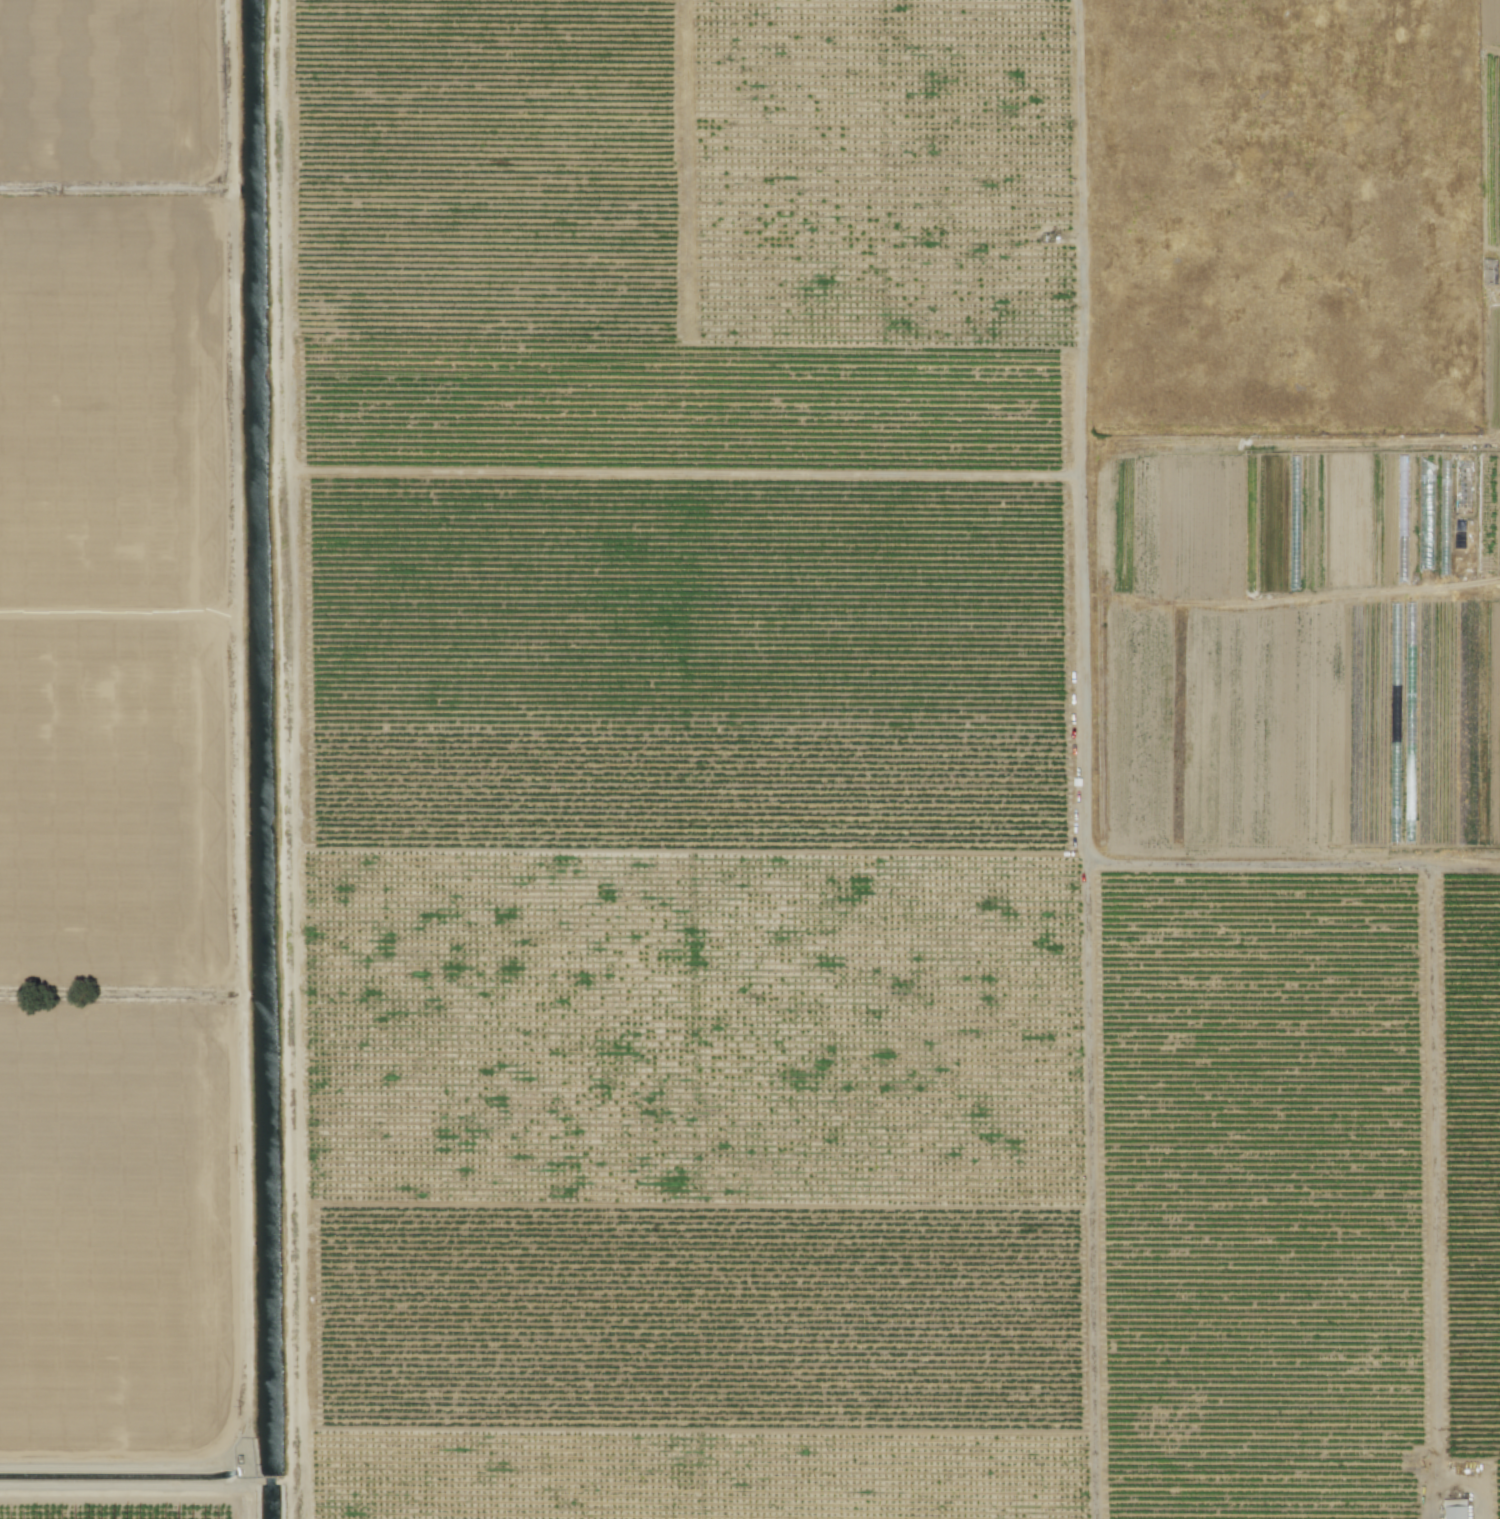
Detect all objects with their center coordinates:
road: (1079, 431)
road: (1430, 1008)
road: (1089, 1190)
road: (1456, 1481)
building: (1454, 1509)

